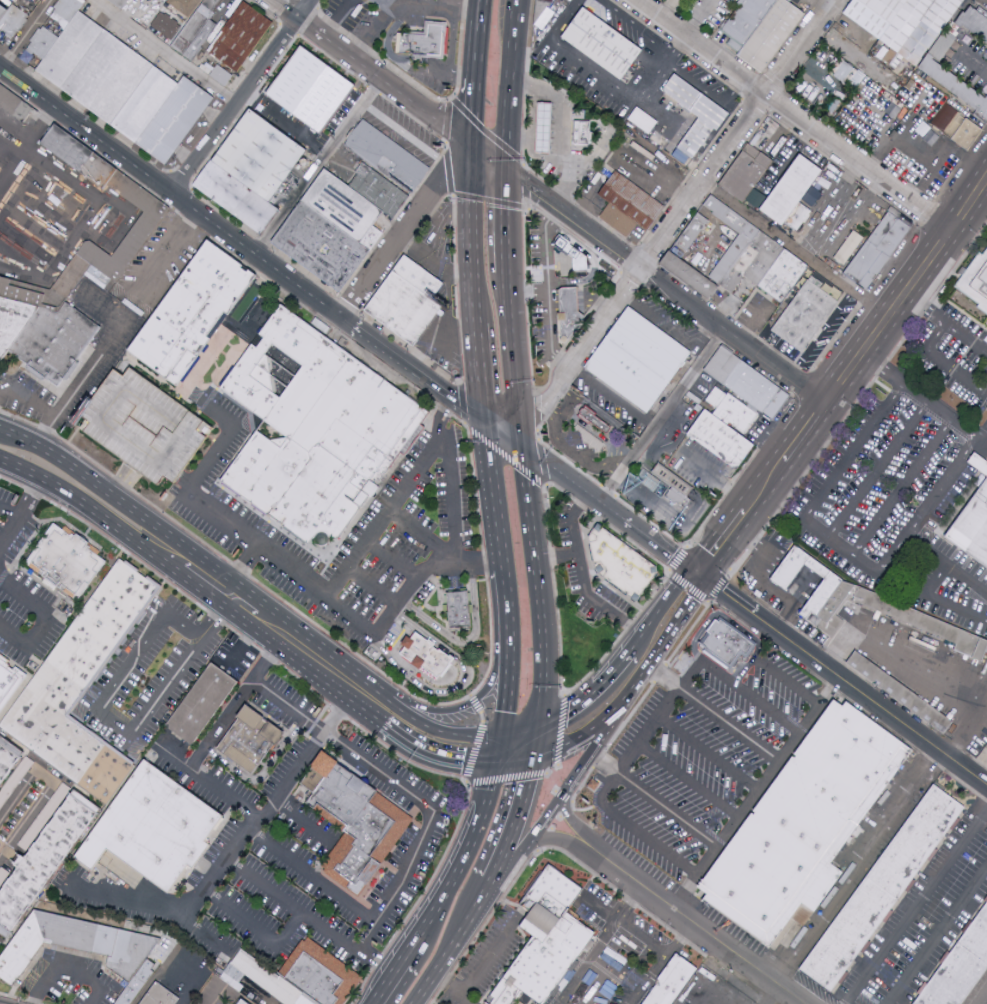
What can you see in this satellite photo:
building: (45, 0)
building: (665, 1)
building: (34, 3)
building: (120, 4)
road: (449, 4)
building: (183, 6)
road: (430, 7)
road: (517, 8)
road: (285, 9)
road: (304, 9)
road: (809, 9)
building: (70, 10)
road: (480, 12)
building: (3, 13)
building: (722, 18)
road: (338, 19)
road: (698, 19)
building: (750, 22)
building: (974, 23)
building: (902, 24)
building: (16, 25)
building: (165, 26)
building: (199, 32)
road: (371, 32)
road: (28, 35)
road: (662, 36)
building: (776, 36)
building: (242, 38)
road: (530, 40)
building: (425, 43)
building: (45, 44)
building: (601, 45)
building: (71, 51)
road: (163, 51)
road: (451, 53)
road: (975, 55)
road: (406, 66)
building: (850, 73)
building: (220, 76)
building: (109, 79)
road: (385, 81)
road: (475, 85)
road: (706, 88)
building: (955, 88)
building: (308, 89)
road: (647, 89)
road: (621, 92)
road: (509, 93)
building: (13, 105)
road: (233, 105)
building: (147, 106)
road: (448, 114)
building: (699, 116)
road: (789, 117)
building: (177, 122)
road: (286, 122)
road: (561, 124)
building: (959, 128)
building: (542, 129)
building: (581, 134)
road: (739, 134)
road: (406, 135)
road: (530, 139)
road: (25, 143)
traffic signals: (473, 145)
building: (386, 153)
building: (258, 156)
road: (926, 157)
road: (490, 158)
road: (788, 162)
road: (318, 166)
traffic signals: (507, 172)
building: (749, 175)
road: (933, 175)
road: (169, 192)
building: (383, 192)
building: (796, 192)
building: (235, 198)
building: (757, 198)
road: (832, 202)
building: (627, 206)
road: (575, 219)
building: (802, 220)
road: (505, 222)
building: (144, 227)
road: (559, 227)
road: (404, 228)
building: (332, 233)
building: (694, 234)
building: (849, 247)
road: (794, 252)
building: (882, 252)
road: (167, 253)
road: (402, 254)
building: (576, 257)
building: (732, 259)
building: (786, 278)
building: (421, 279)
road: (469, 281)
building: (976, 284)
road: (547, 289)
road: (907, 290)
road: (923, 310)
building: (406, 311)
building: (568, 311)
building: (195, 316)
building: (809, 318)
road: (752, 320)
road: (671, 327)
building: (41, 334)
road: (733, 335)
road: (435, 336)
road: (824, 337)
road: (964, 341)
road: (101, 344)
road: (584, 349)
building: (654, 349)
road: (512, 352)
road: (943, 364)
road: (409, 367)
building: (629, 378)
building: (750, 386)
road: (1, 389)
road: (613, 398)
road: (918, 398)
road: (43, 408)
road: (536, 411)
building: (735, 412)
road: (443, 413)
road: (663, 417)
road: (677, 417)
traffic signals: (482, 418)
road: (610, 424)
building: (147, 425)
parking lot: (147, 425)
road: (3, 428)
road: (588, 429)
road: (805, 429)
road: (483, 430)
building: (315, 431)
road: (502, 432)
road: (982, 435)
building: (725, 442)
traffic signals: (522, 447)
road: (567, 450)
road: (505, 456)
building: (980, 462)
road: (423, 463)
road: (609, 470)
road: (876, 473)
road: (715, 477)
road: (88, 478)
road: (124, 481)
road: (763, 485)
building: (666, 489)
road: (900, 490)
road: (490, 494)
road: (527, 495)
road: (31, 499)
road: (78, 502)
road: (629, 507)
road: (610, 510)
road: (588, 511)
road: (9, 515)
road: (570, 521)
road: (9, 531)
building: (972, 531)
parking lot: (409, 537)
road: (721, 543)
road: (837, 548)
road: (170, 550)
road: (498, 556)
road: (555, 557)
road: (391, 561)
road: (469, 564)
building: (620, 564)
road: (947, 564)
building: (69, 566)
road: (239, 570)
road: (500, 572)
traffic signals: (699, 573)
parking lot: (585, 574)
road: (204, 575)
road: (756, 579)
road: (299, 585)
road: (689, 587)
road: (372, 588)
road: (229, 593)
road: (933, 595)
parking lot: (22, 596)
road: (690, 598)
building: (831, 598)
road: (593, 605)
road: (247, 607)
building: (458, 610)
road: (657, 610)
road: (723, 617)
road: (45, 618)
road: (217, 619)
road: (504, 622)
road: (273, 626)
building: (925, 627)
road: (243, 641)
road: (468, 644)
road: (541, 644)
building: (726, 647)
road: (657, 650)
building: (427, 653)
road: (322, 661)
road: (744, 672)
road: (918, 674)
road: (664, 678)
road: (842, 680)
building: (8, 681)
road: (788, 682)
road: (462, 683)
road: (481, 686)
building: (80, 688)
road: (737, 689)
building: (898, 695)
road: (379, 697)
road: (584, 698)
road: (622, 698)
road: (480, 701)
road: (238, 702)
road: (503, 702)
building: (201, 705)
road: (372, 706)
road: (637, 706)
road: (461, 708)
traffic signals: (503, 709)
road: (97, 710)
traffic signals: (562, 716)
road: (482, 718)
road: (731, 726)
road: (446, 731)
road: (560, 731)
road: (650, 731)
road: (518, 732)
road: (583, 733)
road: (600, 734)
building: (249, 740)
road: (534, 742)
road: (498, 749)
road: (545, 752)
road: (437, 753)
road: (709, 754)
building: (7, 755)
road: (514, 759)
parking lot: (698, 759)
traffic signals: (471, 761)
road: (605, 762)
road: (263, 773)
road: (577, 774)
road: (549, 775)
traffic signals: (529, 776)
road: (553, 778)
road: (205, 781)
road: (476, 781)
road: (689, 781)
road: (50, 785)
building: (62, 791)
road: (407, 792)
road: (756, 793)
road: (563, 797)
road: (270, 803)
road: (667, 809)
road: (301, 820)
road: (515, 820)
road: (568, 820)
building: (353, 824)
road: (554, 825)
building: (802, 828)
building: (152, 829)
road: (631, 829)
road: (555, 841)
road: (529, 842)
building: (43, 857)
road: (529, 858)
road: (459, 862)
road: (855, 867)
road: (313, 877)
road: (485, 892)
building: (880, 893)
road: (421, 897)
road: (155, 904)
road: (916, 907)
road: (598, 908)
road: (309, 917)
road: (691, 922)
parking lot: (923, 923)
road: (258, 929)
road: (463, 929)
road: (611, 932)
road: (940, 935)
building: (545, 939)
building: (75, 944)
road: (489, 957)
road: (662, 963)
road: (64, 967)
road: (583, 967)
building: (961, 969)
building: (319, 975)
road: (387, 979)
road: (430, 979)
building: (268, 980)
building: (669, 982)
building: (135, 984)
road: (451, 990)
parking lot: (980, 994)
road: (217, 996)
building: (161, 997)
road: (981, 997)
building: (241, 1003)

